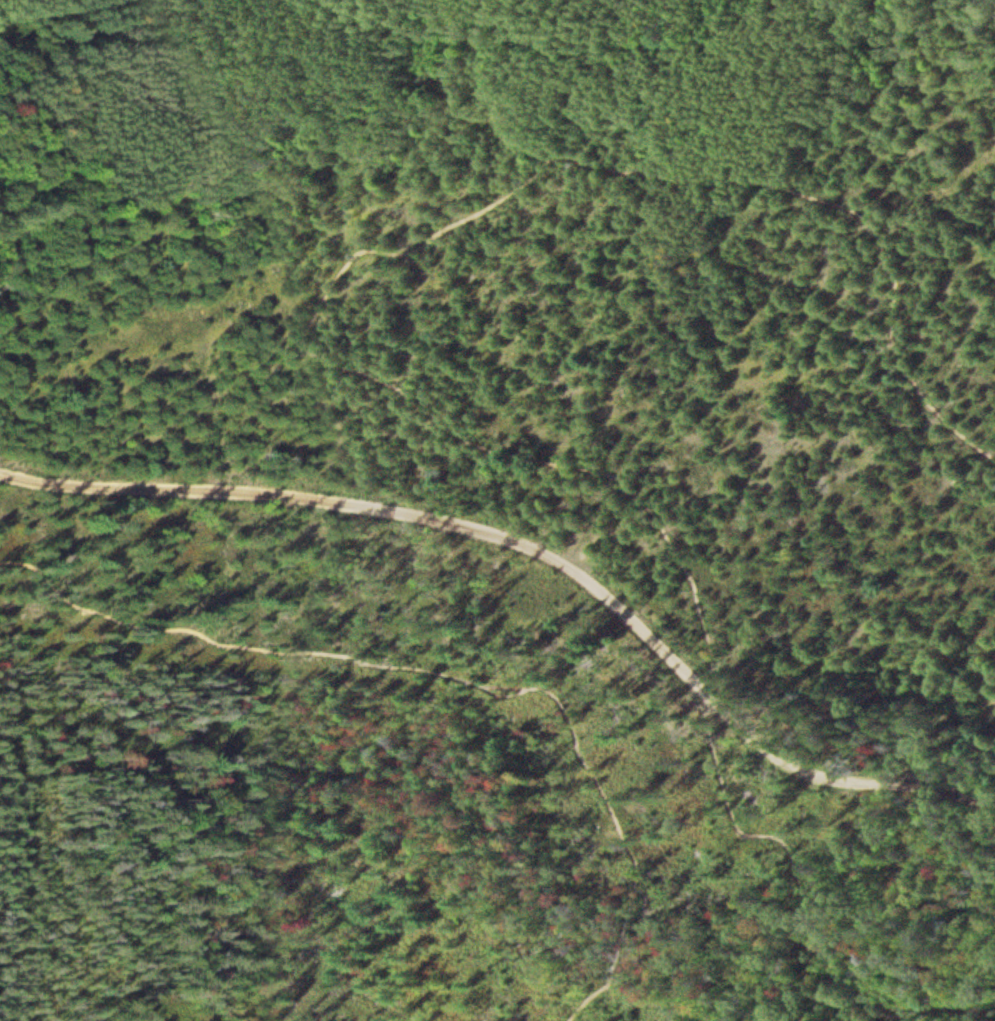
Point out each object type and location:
road: (380, 385)
road: (533, 548)
road: (447, 672)

